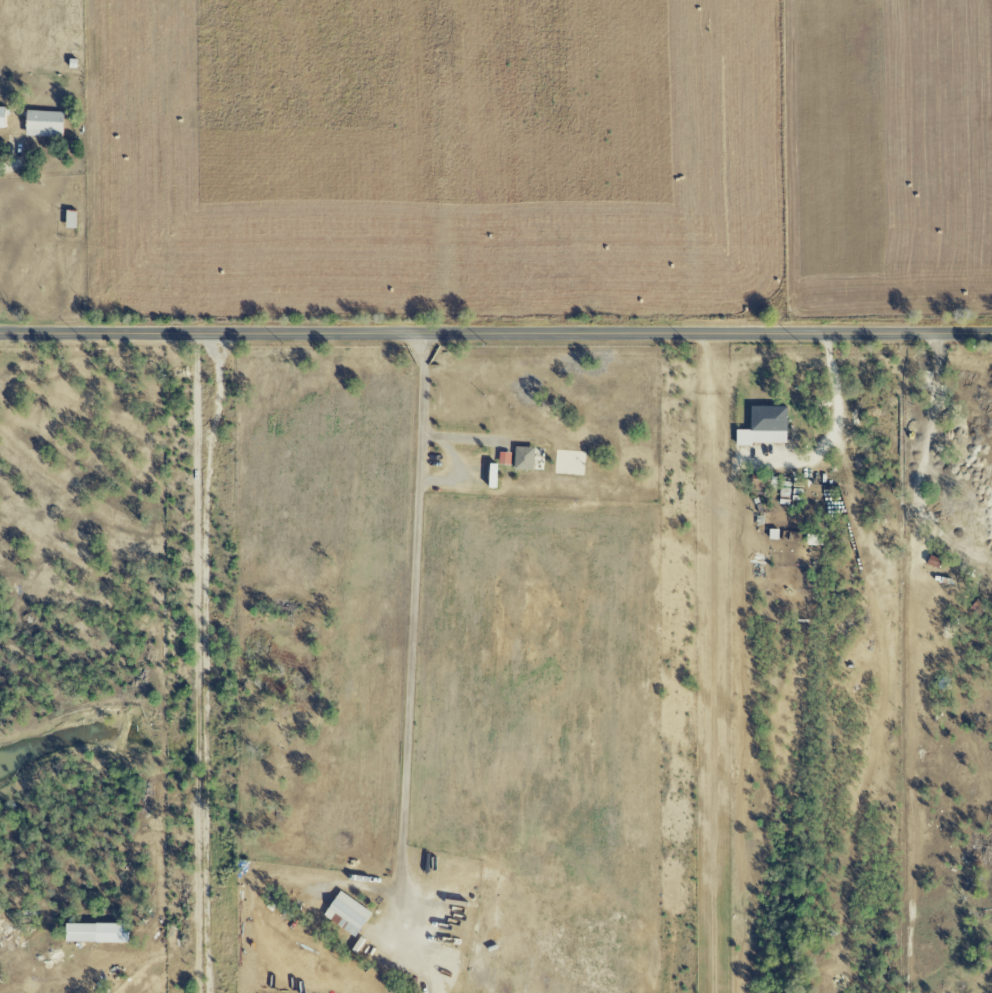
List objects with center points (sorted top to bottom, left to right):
building: (1, 117)
building: (42, 124)
road: (17, 165)
building: (69, 220)
road: (495, 336)
road: (837, 423)
road: (422, 425)
building: (763, 426)
building: (503, 458)
building: (522, 458)
road: (924, 458)
building: (491, 475)
road: (199, 664)
road: (411, 680)
building: (346, 914)
building: (95, 933)
road: (82, 983)

